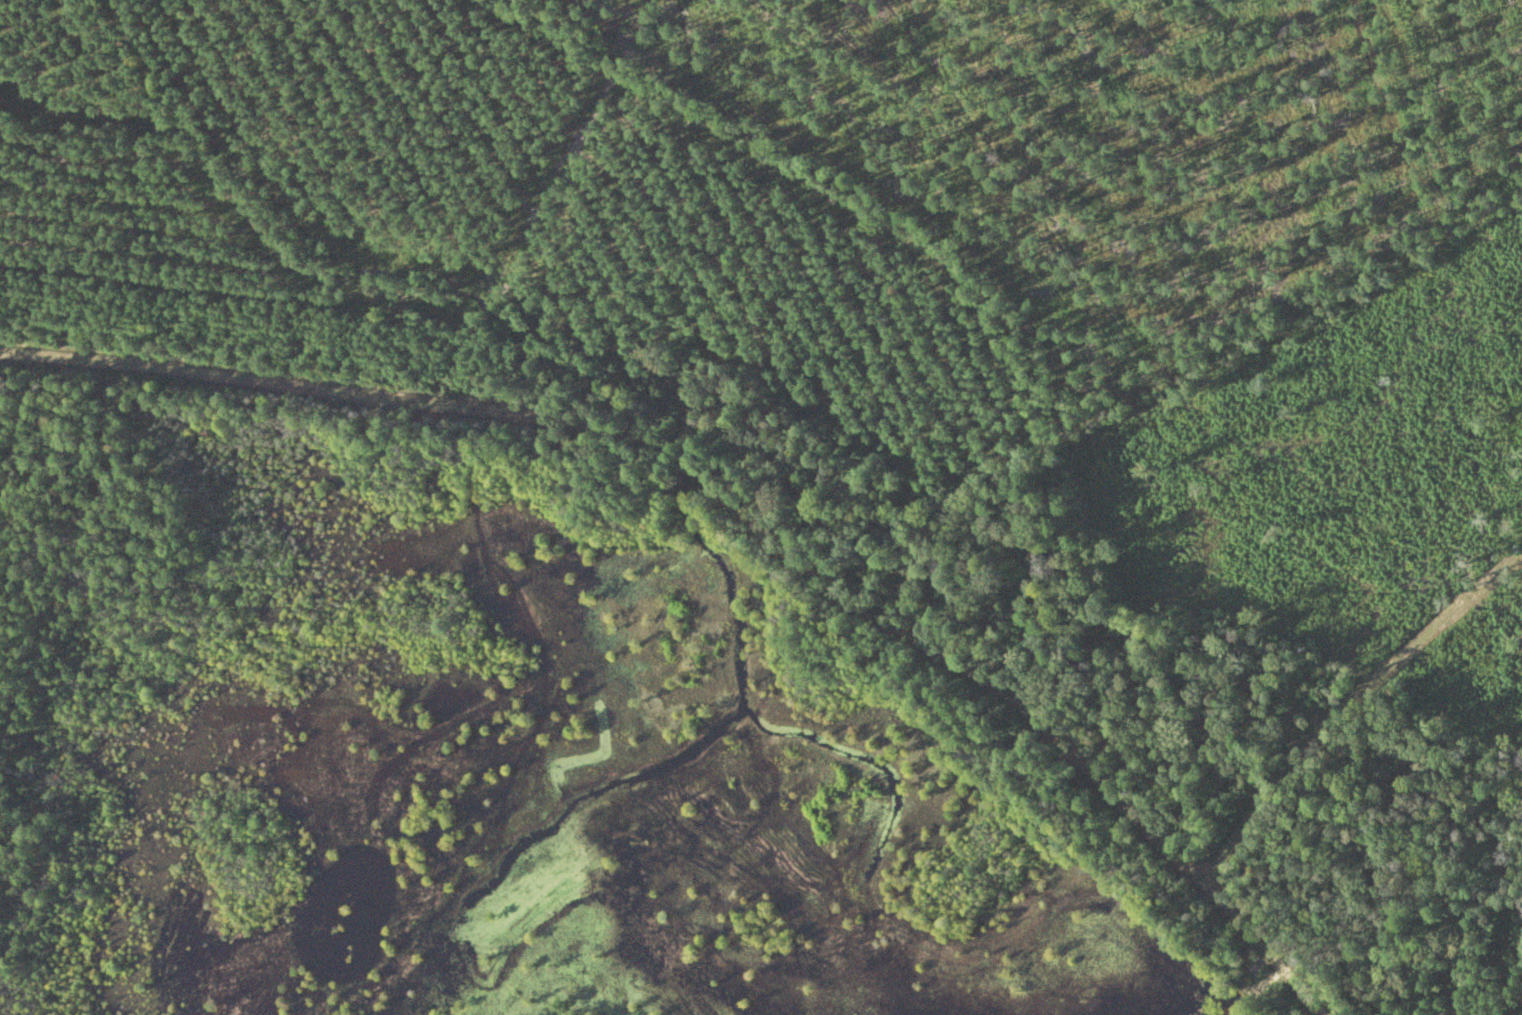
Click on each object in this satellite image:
road: (827, 581)
road: (1264, 943)

